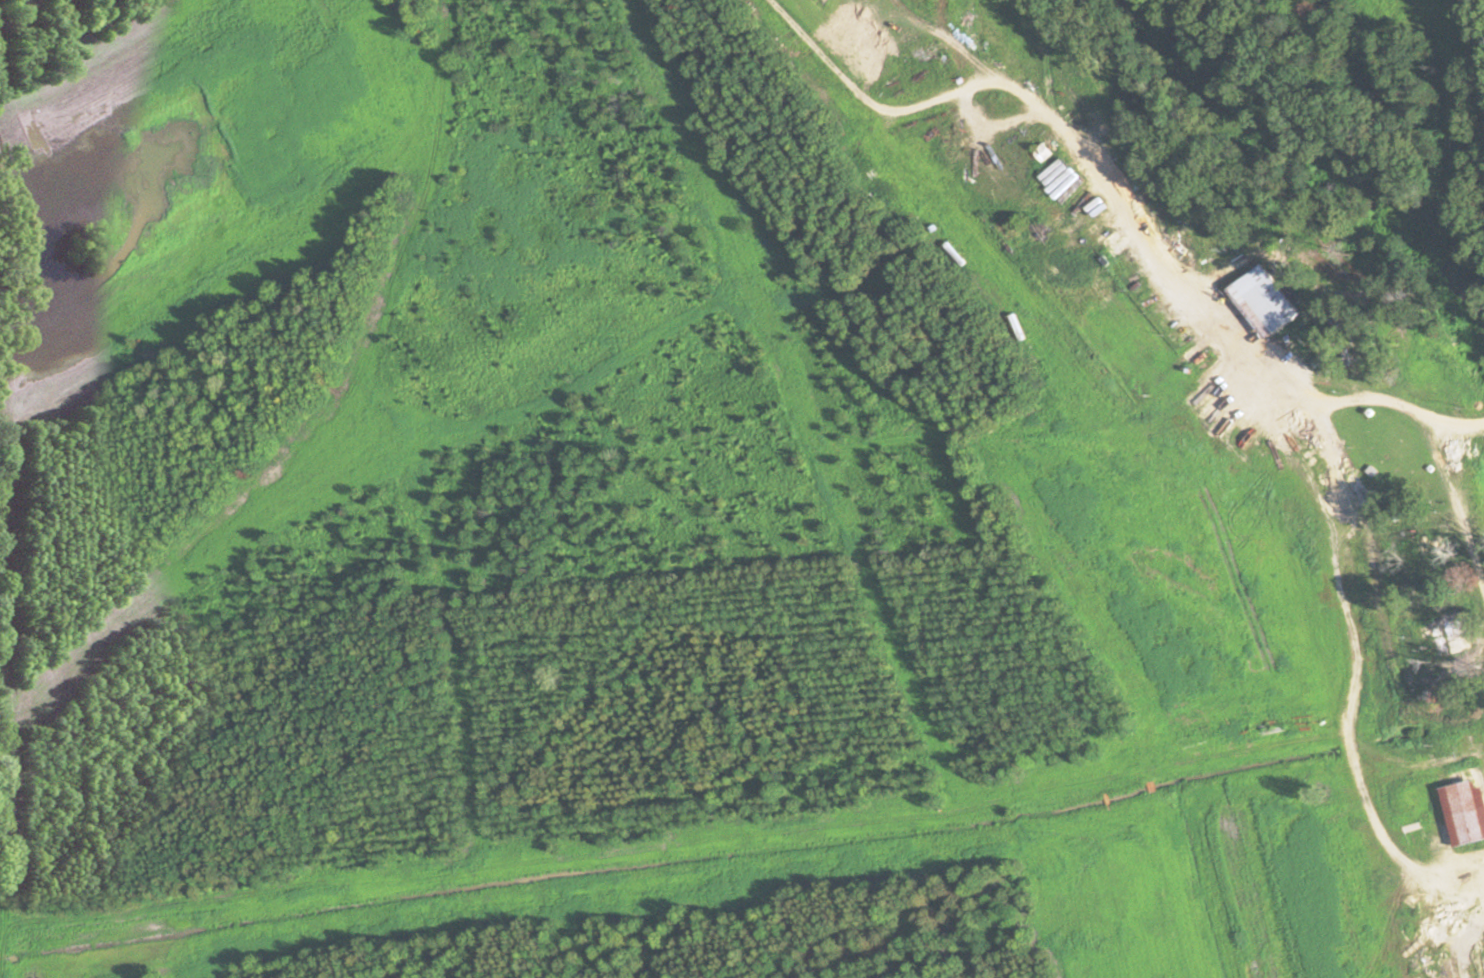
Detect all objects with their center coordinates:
building: (1045, 151)
river: (1330, 162)
building: (1265, 302)
building: (1446, 629)
building: (1410, 714)
building: (1464, 811)

